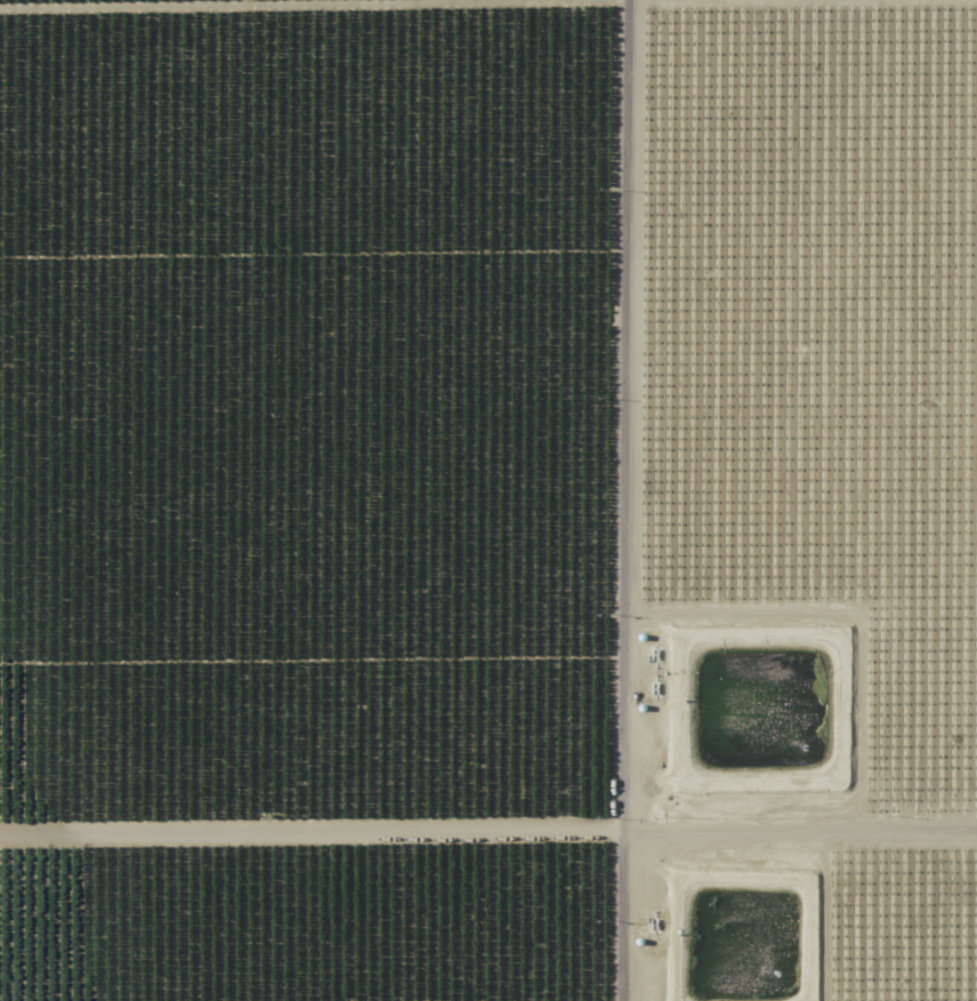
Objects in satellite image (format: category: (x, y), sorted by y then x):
road: (638, 417)
road: (808, 834)
road: (612, 914)

